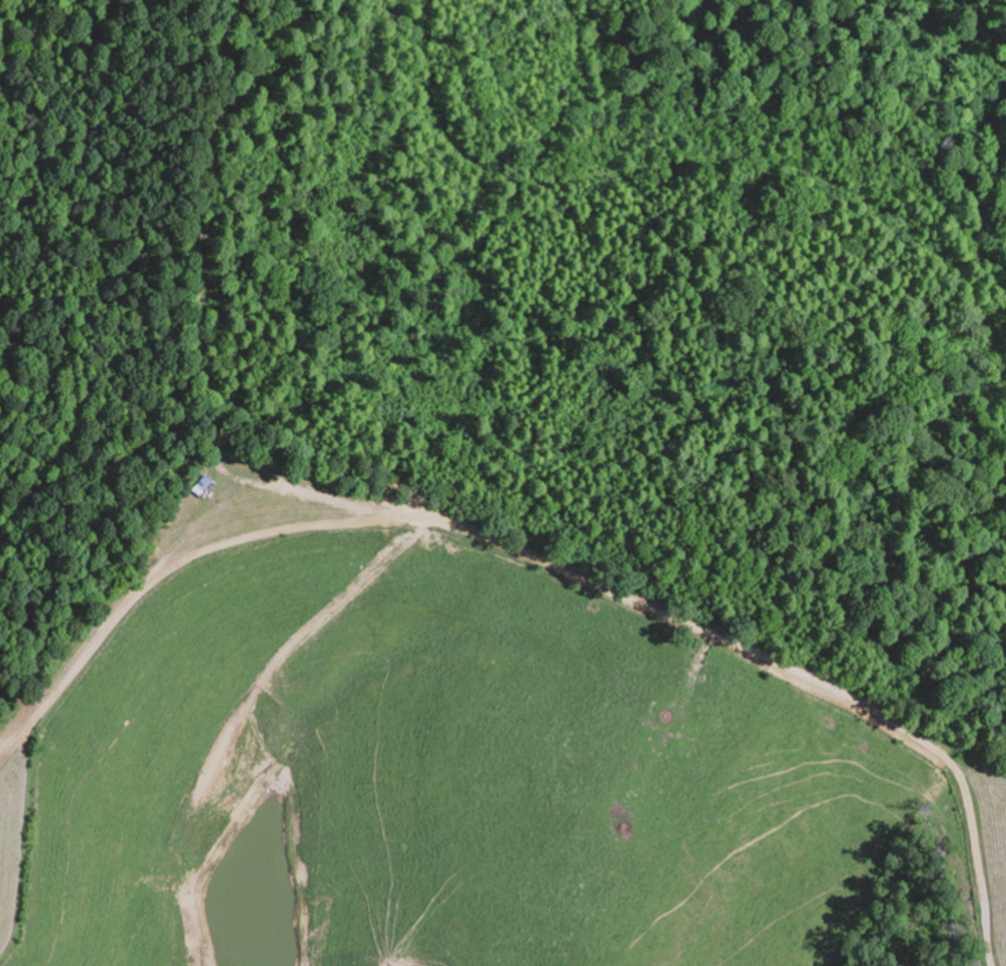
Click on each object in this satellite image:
building: (204, 485)

